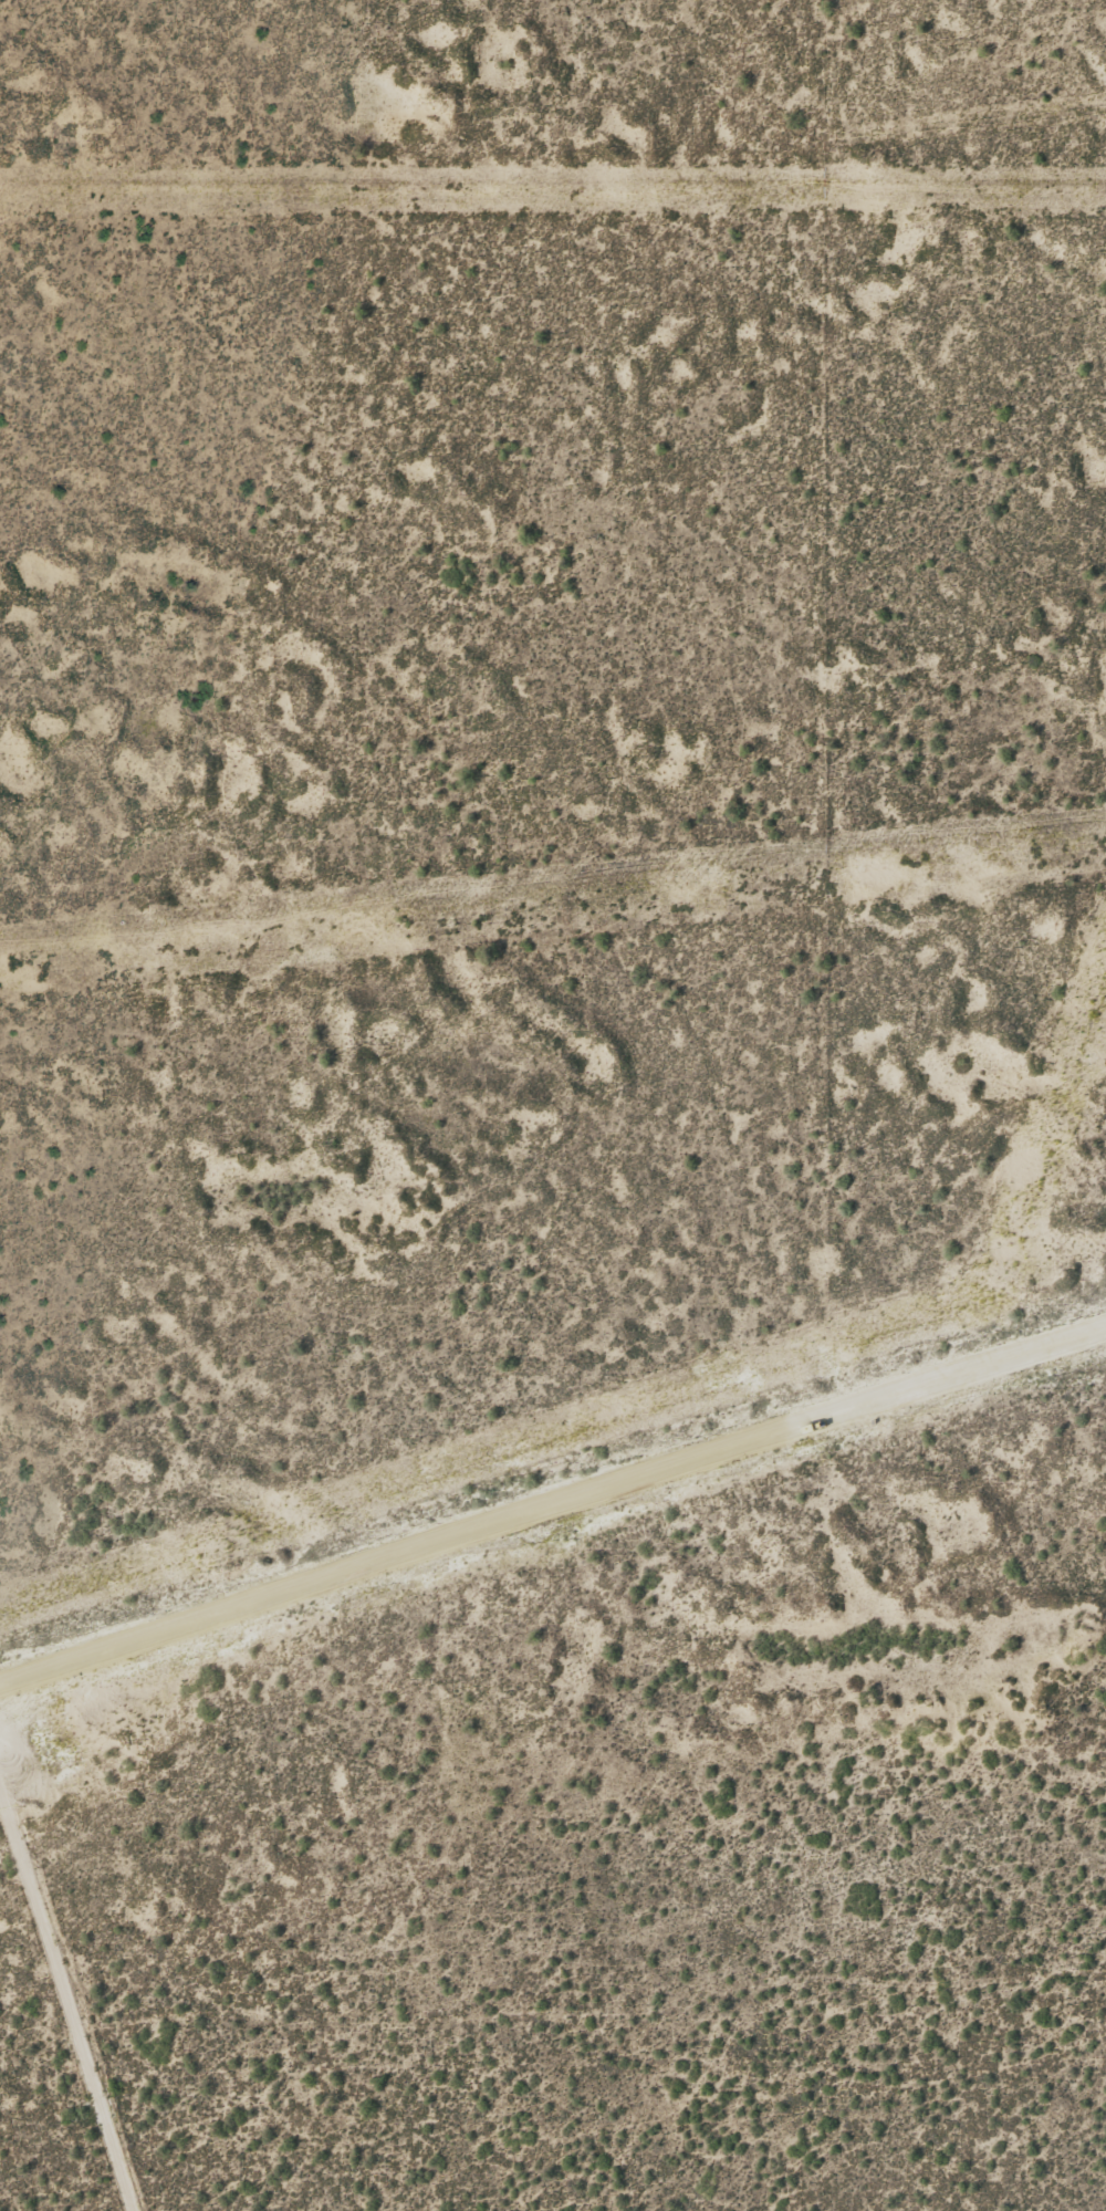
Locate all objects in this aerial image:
road: (553, 1525)

